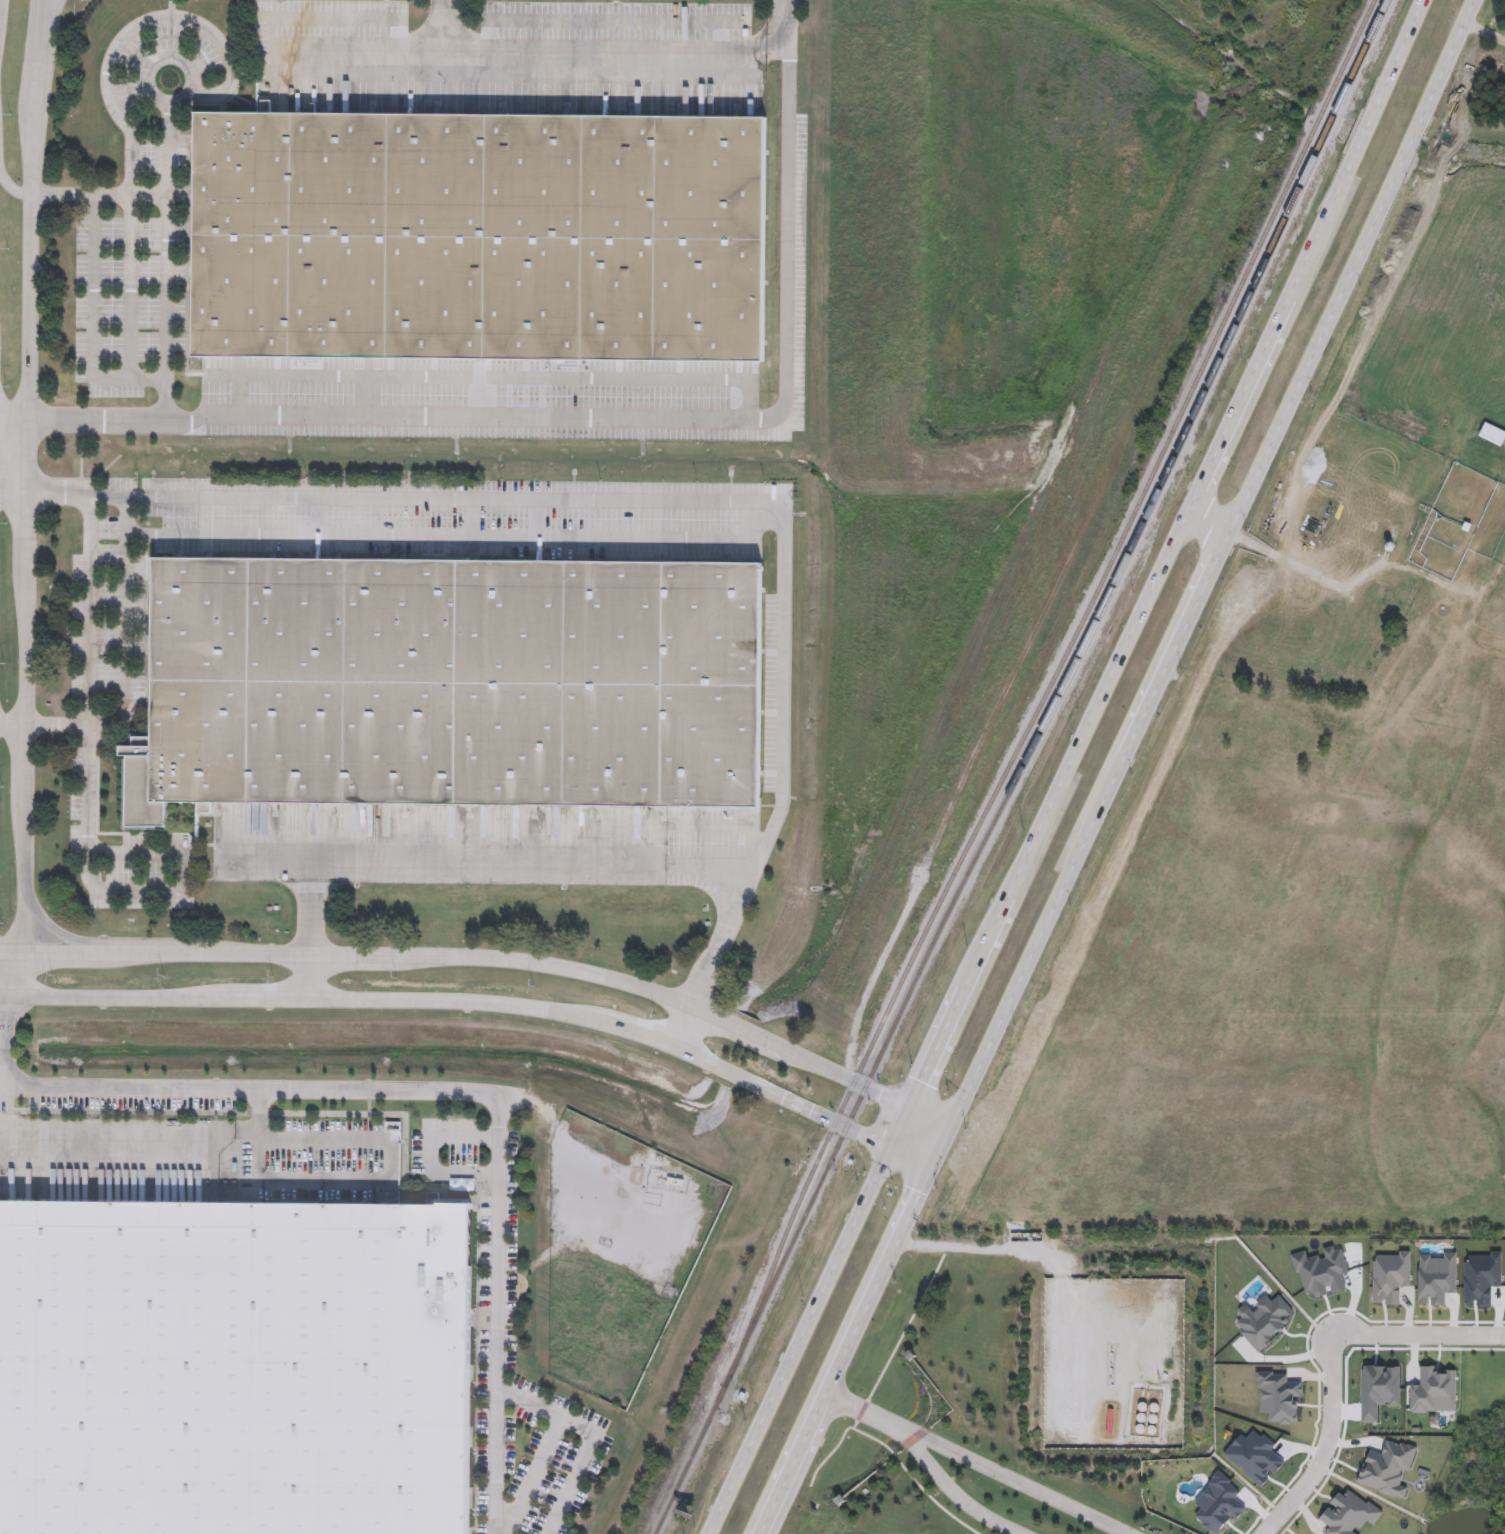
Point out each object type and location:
road: (0, 1)
road: (44, 7)
road: (48, 7)
road: (206, 27)
road: (1485, 33)
road: (587, 49)
road: (159, 58)
road: (42, 59)
building: (265, 106)
road: (10, 171)
building: (799, 231)
building: (479, 235)
road: (38, 258)
road: (165, 286)
road: (93, 303)
road: (130, 344)
road: (18, 417)
road: (680, 417)
road: (35, 452)
road: (17, 491)
road: (673, 501)
road: (1209, 523)
road: (34, 534)
road: (1214, 565)
road: (1306, 572)
road: (1158, 576)
road: (130, 622)
road: (91, 637)
road: (32, 649)
railway: (1066, 677)
building: (451, 684)
road: (15, 721)
railway: (1009, 763)
road: (30, 769)
road: (273, 861)
road: (484, 863)
road: (30, 885)
road: (126, 891)
road: (57, 932)
road: (14, 954)
road: (481, 960)
road: (29, 973)
road: (312, 979)
road: (16, 1000)
road: (458, 1002)
road: (1, 1007)
road: (683, 1029)
road: (2, 1048)
traffic signals: (921, 1081)
road: (4, 1082)
road: (432, 1091)
road: (928, 1120)
road: (129, 1131)
traffic signals: (878, 1145)
road: (940, 1150)
road: (427, 1153)
road: (909, 1161)
road: (361, 1183)
traffic signals: (920, 1194)
road: (1033, 1256)
road: (799, 1342)
road: (846, 1352)
road: (1334, 1362)
building: (231, 1364)
road: (866, 1413)
road: (587, 1438)
road: (531, 1475)
road: (1017, 1482)
road: (952, 1492)

